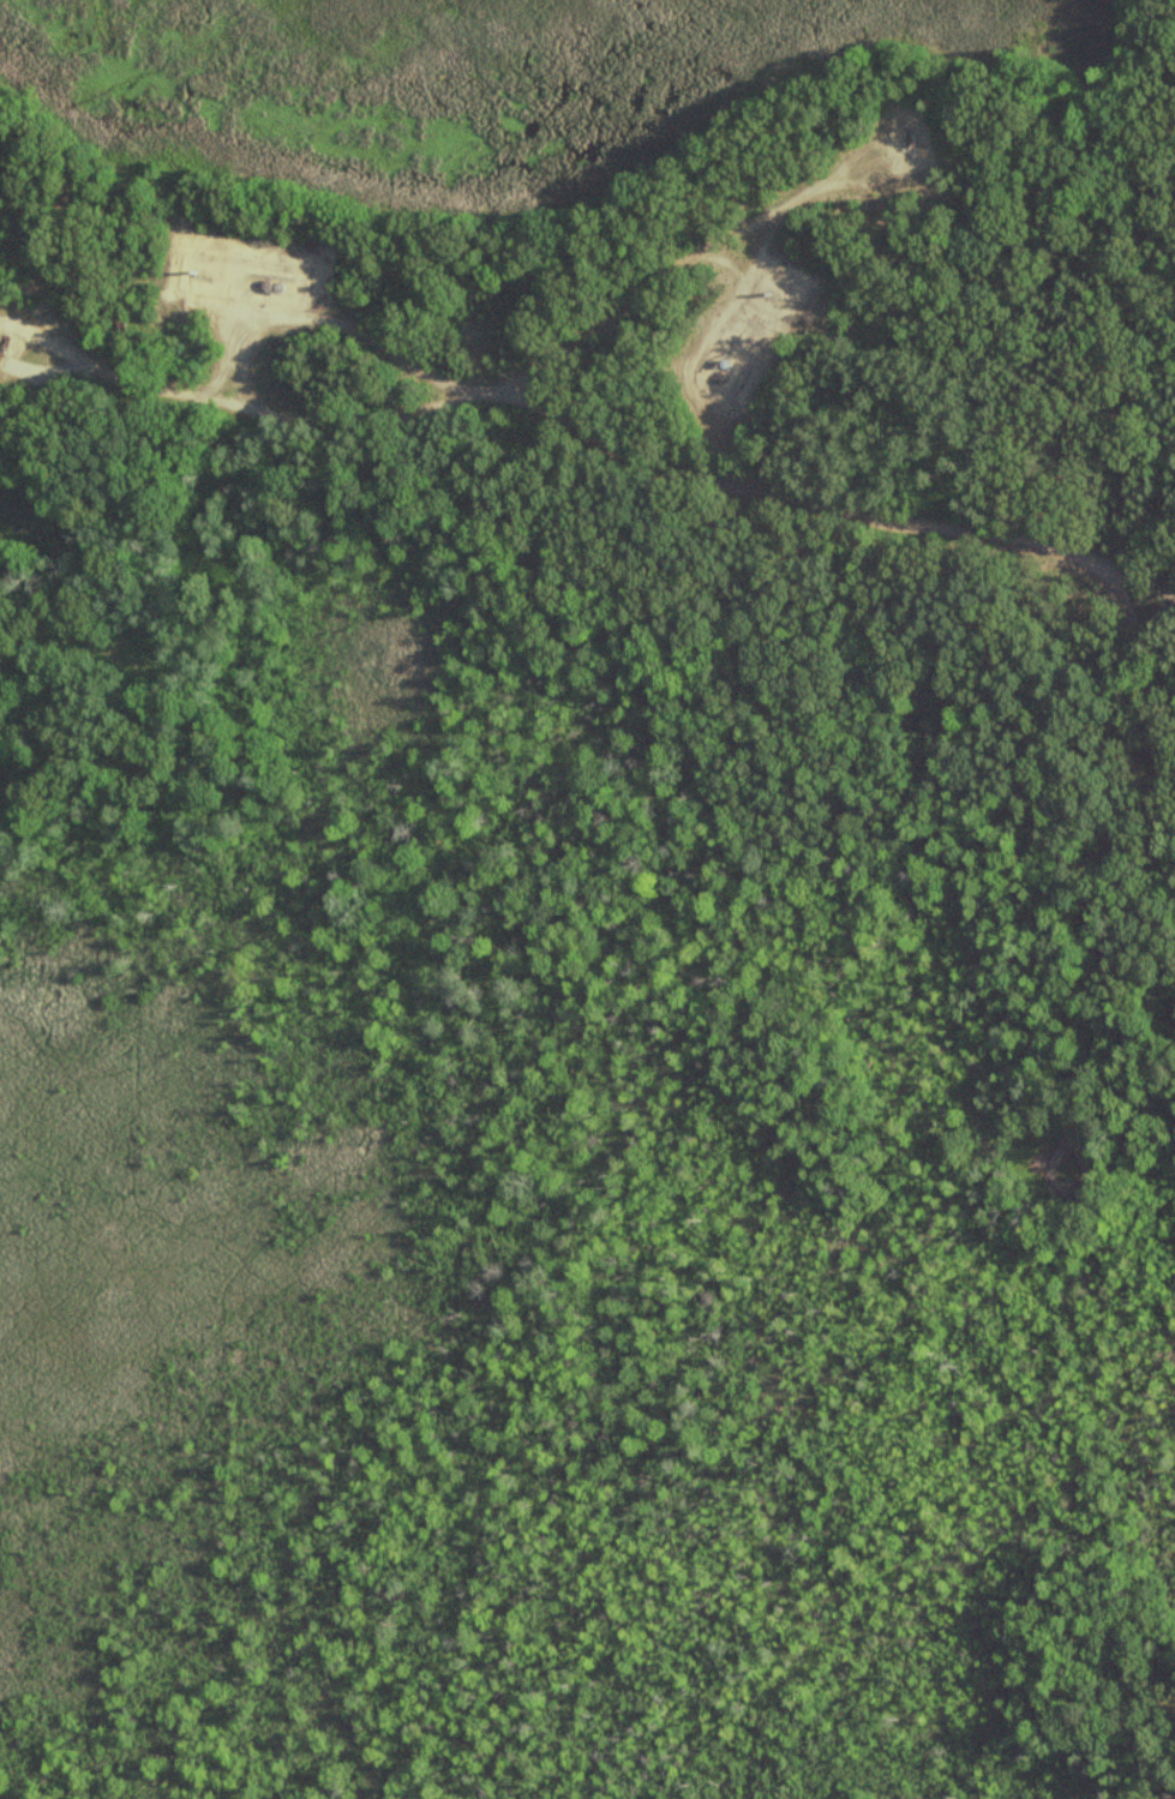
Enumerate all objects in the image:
road: (761, 233)
road: (616, 365)
road: (360, 389)
road: (696, 390)
road: (659, 479)
road: (1062, 1169)
road: (1159, 1716)

